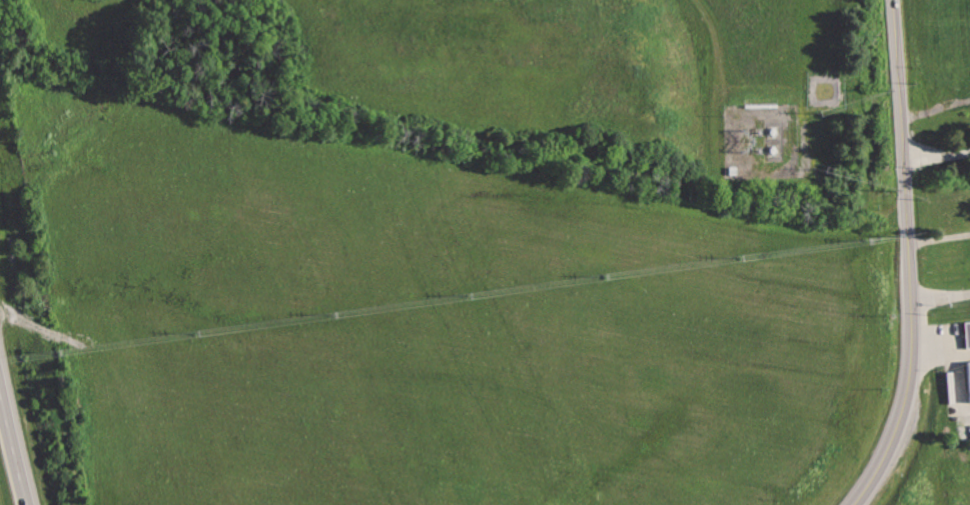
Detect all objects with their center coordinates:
road: (936, 151)
road: (939, 238)
road: (909, 258)
road: (941, 299)
building: (967, 334)
building: (969, 375)
road: (13, 449)

